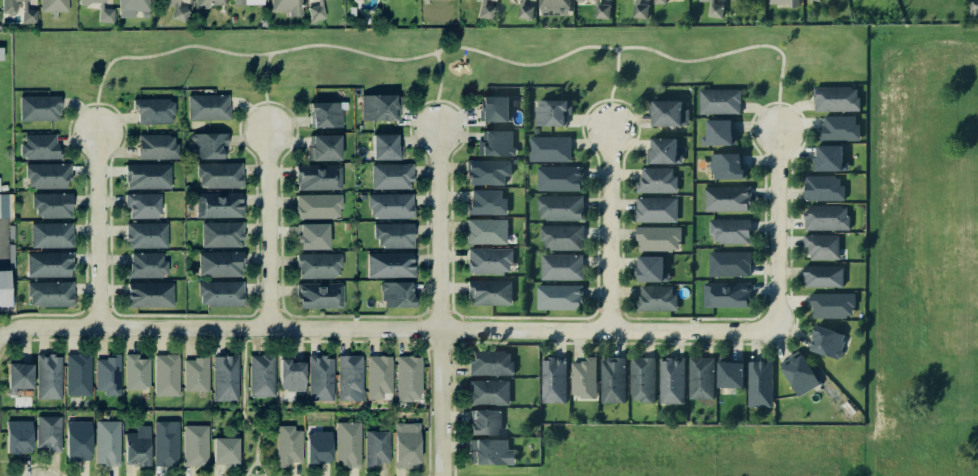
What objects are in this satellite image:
building: (579, 0)
building: (710, 0)
building: (735, 0)
building: (814, 0)
building: (84, 1)
building: (658, 1)
building: (784, 1)
building: (246, 2)
building: (524, 2)
building: (205, 3)
building: (52, 5)
building: (7, 6)
building: (285, 6)
building: (552, 6)
building: (130, 7)
building: (973, 7)
building: (638, 9)
building: (714, 9)
building: (176, 10)
building: (484, 10)
building: (523, 10)
building: (600, 10)
building: (314, 11)
building: (102, 14)
building: (27, 15)
road: (450, 47)
building: (1, 53)
park: (438, 57)
road: (616, 75)
road: (440, 77)
road: (264, 78)
building: (834, 98)
building: (718, 100)
street lamp: (446, 103)
building: (38, 106)
building: (206, 106)
building: (378, 106)
building: (492, 108)
building: (151, 110)
building: (550, 111)
building: (666, 112)
building: (322, 114)
road: (610, 114)
road: (438, 117)
road: (777, 117)
road: (97, 118)
road: (268, 119)
street lamp: (755, 120)
building: (837, 128)
street lamp: (71, 131)
street lamp: (242, 131)
street lamp: (124, 132)
building: (717, 132)
street lamp: (294, 134)
street lamp: (585, 135)
street lamp: (636, 135)
building: (494, 142)
building: (154, 145)
building: (206, 145)
building: (39, 147)
building: (321, 147)
building: (383, 147)
building: (548, 147)
building: (661, 150)
building: (827, 158)
street lamp: (430, 161)
building: (725, 165)
building: (485, 170)
building: (45, 175)
building: (144, 175)
building: (217, 175)
building: (389, 175)
building: (316, 176)
building: (558, 177)
building: (655, 179)
building: (2, 186)
building: (822, 187)
street lamp: (107, 193)
street lamp: (601, 193)
building: (725, 197)
building: (4, 199)
building: (485, 202)
building: (50, 204)
building: (216, 204)
building: (388, 204)
building: (141, 205)
building: (315, 205)
building: (558, 206)
building: (655, 208)
building: (825, 216)
building: (344, 225)
road: (609, 227)
road: (776, 227)
road: (99, 228)
road: (269, 230)
building: (485, 230)
building: (729, 230)
building: (219, 233)
building: (392, 234)
building: (49, 235)
building: (144, 235)
building: (309, 236)
building: (560, 236)
building: (656, 237)
street lamp: (769, 243)
building: (819, 244)
building: (487, 260)
building: (47, 263)
building: (218, 263)
building: (728, 263)
building: (144, 264)
building: (316, 264)
building: (388, 264)
building: (560, 265)
building: (649, 268)
building: (821, 275)
street lamp: (262, 277)
road: (452, 285)
building: (3, 288)
building: (487, 291)
building: (48, 293)
building: (218, 293)
building: (726, 293)
building: (147, 294)
building: (317, 294)
building: (394, 294)
building: (557, 296)
building: (654, 298)
street lamp: (109, 300)
road: (442, 303)
building: (830, 303)
road: (87, 309)
road: (98, 309)
road: (110, 309)
road: (259, 309)
road: (281, 309)
road: (598, 309)
road: (619, 309)
road: (270, 310)
road: (609, 310)
road: (429, 311)
road: (440, 311)
road: (452, 311)
road: (419, 318)
road: (461, 318)
street lamp: (686, 320)
road: (420, 329)
road: (461, 329)
road: (385, 330)
road: (245, 333)
street lamp: (787, 334)
street lamp: (119, 335)
street lamp: (34, 336)
street lamp: (278, 338)
street lamp: (503, 338)
road: (245, 339)
street lamp: (396, 339)
road: (276, 340)
road: (420, 340)
road: (461, 340)
street lamp: (599, 340)
building: (828, 341)
road: (441, 347)
road: (452, 347)
road: (429, 348)
street lamp: (432, 352)
building: (489, 361)
building: (137, 371)
building: (197, 372)
building: (730, 372)
building: (78, 373)
building: (167, 374)
building: (291, 374)
building: (48, 375)
building: (107, 375)
building: (801, 375)
building: (262, 376)
building: (380, 376)
building: (702, 376)
building: (225, 377)
building: (320, 377)
building: (350, 377)
building: (583, 377)
building: (409, 378)
building: (554, 378)
building: (613, 378)
building: (642, 378)
building: (19, 379)
building: (672, 380)
building: (760, 383)
building: (488, 391)
road: (243, 404)
building: (484, 421)
park: (254, 430)
building: (48, 432)
building: (18, 436)
building: (77, 441)
building: (107, 443)
building: (165, 443)
building: (347, 443)
building: (405, 443)
building: (195, 446)
building: (287, 446)
building: (375, 447)
building: (136, 448)
building: (317, 448)
building: (224, 450)
building: (491, 451)
road: (8, 460)
road: (41, 464)
road: (250, 468)
road: (262, 469)

